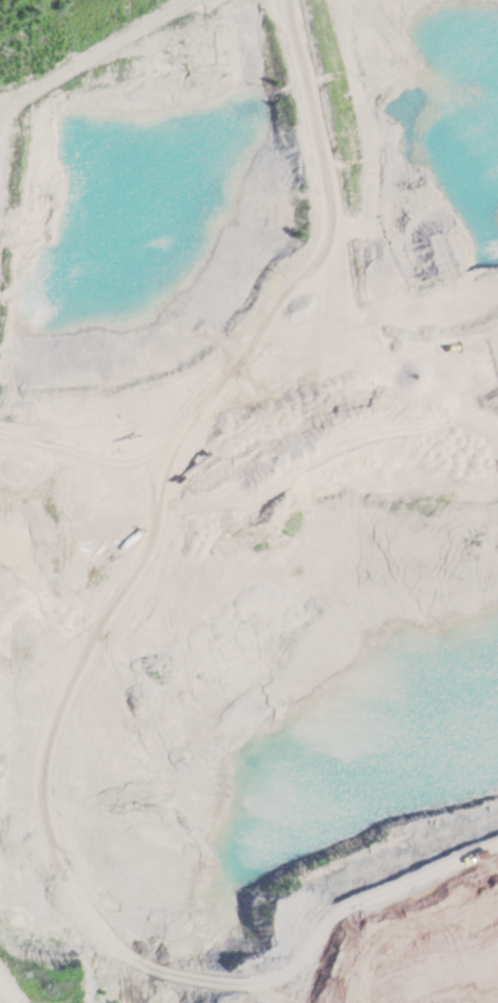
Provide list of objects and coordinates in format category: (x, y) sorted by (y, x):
quarry: (249, 501)

